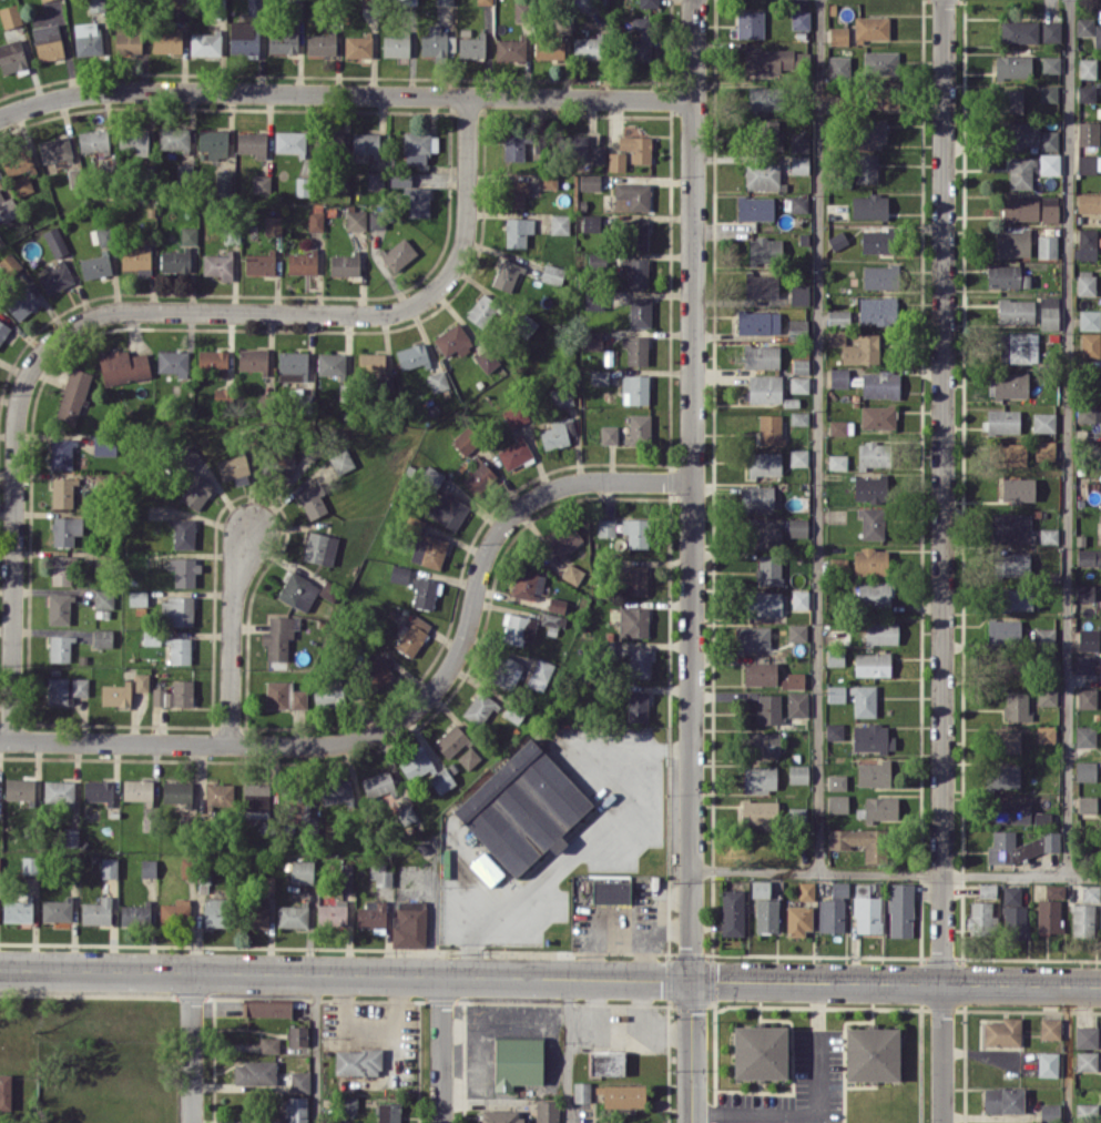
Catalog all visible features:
building: (41, 0)
building: (485, 1)
building: (444, 2)
building: (648, 3)
building: (10, 16)
building: (799, 19)
building: (750, 23)
building: (1084, 26)
building: (870, 28)
building: (1019, 31)
building: (1050, 31)
building: (838, 34)
building: (1097, 34)
building: (243, 37)
building: (86, 38)
building: (641, 38)
building: (47, 41)
building: (166, 41)
building: (282, 41)
building: (437, 41)
building: (128, 42)
building: (205, 43)
building: (320, 43)
building: (357, 45)
building: (396, 45)
building: (471, 47)
building: (587, 48)
building: (510, 49)
building: (548, 49)
building: (11, 55)
building: (768, 60)
building: (880, 63)
building: (1050, 63)
building: (839, 67)
building: (1012, 67)
building: (1087, 68)
road: (344, 92)
building: (1048, 92)
building: (1085, 93)
building: (880, 97)
building: (763, 99)
building: (1010, 100)
building: (764, 133)
building: (1088, 133)
building: (869, 134)
building: (1028, 135)
building: (174, 138)
building: (335, 138)
building: (134, 140)
building: (93, 141)
building: (213, 142)
building: (289, 142)
building: (365, 142)
building: (799, 142)
building: (252, 143)
building: (571, 145)
building: (418, 146)
building: (513, 146)
building: (636, 146)
building: (54, 149)
building: (598, 153)
building: (616, 161)
building: (18, 163)
building: (1049, 163)
building: (1088, 163)
building: (799, 164)
building: (866, 168)
building: (1020, 172)
building: (762, 175)
building: (375, 180)
building: (548, 181)
building: (589, 181)
building: (224, 182)
building: (261, 183)
building: (22, 184)
building: (302, 186)
building: (516, 193)
building: (633, 194)
building: (412, 195)
building: (1089, 202)
building: (798, 203)
building: (869, 205)
building: (7, 206)
building: (755, 208)
building: (1020, 209)
building: (1049, 209)
building: (377, 219)
building: (316, 220)
building: (356, 220)
building: (590, 221)
building: (559, 223)
building: (273, 224)
building: (518, 231)
building: (634, 233)
building: (188, 235)
building: (837, 240)
building: (877, 240)
building: (55, 241)
building: (1012, 242)
building: (1085, 244)
building: (1047, 245)
building: (765, 250)
building: (398, 253)
building: (136, 260)
building: (174, 260)
building: (259, 262)
building: (302, 262)
building: (9, 263)
building: (217, 264)
building: (343, 264)
building: (95, 265)
building: (635, 272)
building: (552, 273)
building: (506, 275)
building: (1006, 275)
building: (878, 276)
building: (54, 277)
building: (1084, 282)
building: (761, 285)
building: (798, 294)
building: (593, 299)
building: (21, 303)
road: (140, 310)
building: (482, 310)
building: (877, 310)
building: (639, 311)
building: (1016, 311)
building: (1048, 312)
building: (837, 316)
building: (1089, 320)
building: (757, 322)
building: (523, 324)
building: (797, 327)
building: (3, 330)
building: (836, 336)
building: (452, 340)
building: (592, 340)
building: (1090, 344)
building: (1019, 346)
building: (635, 348)
building: (862, 350)
building: (412, 355)
building: (761, 356)
building: (252, 358)
building: (212, 360)
building: (173, 362)
building: (330, 364)
building: (293, 365)
building: (123, 366)
building: (374, 366)
building: (799, 366)
building: (599, 376)
building: (838, 377)
building: (437, 381)
building: (798, 384)
building: (880, 384)
building: (1008, 384)
building: (635, 388)
building: (763, 388)
building: (72, 396)
building: (561, 396)
building: (1089, 413)
building: (516, 415)
building: (878, 416)
building: (798, 417)
building: (1001, 421)
building: (1043, 422)
building: (639, 427)
building: (840, 427)
building: (769, 428)
building: (557, 433)
building: (609, 434)
road: (819, 436)
road: (1070, 437)
building: (463, 441)
building: (104, 445)
building: (1044, 449)
building: (62, 453)
building: (513, 453)
building: (1011, 453)
building: (873, 454)
building: (798, 456)
building: (341, 461)
building: (837, 461)
building: (283, 463)
building: (764, 463)
building: (234, 468)
building: (193, 474)
building: (478, 476)
building: (431, 477)
road: (692, 488)
building: (869, 488)
building: (1018, 489)
building: (62, 492)
building: (756, 496)
building: (312, 500)
building: (448, 509)
building: (871, 523)
building: (605, 526)
building: (796, 527)
building: (1011, 527)
building: (65, 529)
building: (635, 532)
building: (183, 533)
building: (763, 533)
building: (1048, 535)
building: (565, 540)
building: (320, 547)
building: (428, 550)
building: (1089, 556)
building: (870, 561)
road: (944, 561)
building: (1012, 564)
building: (61, 569)
building: (768, 569)
building: (184, 571)
building: (399, 573)
building: (572, 574)
building: (634, 579)
building: (528, 585)
building: (298, 590)
building: (424, 591)
building: (1084, 591)
building: (874, 594)
building: (137, 597)
building: (103, 598)
building: (799, 599)
building: (1018, 599)
building: (763, 603)
building: (555, 604)
building: (59, 608)
building: (176, 610)
building: (550, 619)
building: (632, 621)
building: (519, 628)
building: (796, 631)
building: (880, 631)
building: (1003, 631)
building: (411, 634)
road: (231, 635)
building: (279, 636)
building: (838, 636)
building: (102, 637)
building: (151, 637)
building: (751, 637)
building: (1044, 637)
building: (1088, 639)
building: (60, 648)
building: (180, 650)
building: (835, 656)
building: (638, 661)
building: (1083, 662)
building: (871, 664)
building: (1100, 668)
building: (381, 671)
building: (507, 671)
building: (760, 672)
building: (540, 674)
building: (792, 680)
building: (141, 681)
building: (65, 689)
building: (836, 692)
building: (115, 694)
building: (174, 694)
building: (329, 694)
building: (284, 696)
building: (1047, 696)
building: (1087, 698)
building: (864, 700)
building: (796, 704)
building: (1016, 705)
building: (636, 706)
building: (479, 708)
building: (768, 708)
road: (409, 712)
building: (834, 730)
building: (1046, 734)
building: (1084, 736)
building: (871, 738)
building: (451, 741)
building: (1005, 741)
building: (762, 743)
building: (469, 758)
building: (416, 763)
building: (1085, 770)
building: (797, 773)
building: (873, 773)
building: (1003, 776)
building: (760, 779)
building: (441, 780)
building: (836, 781)
building: (377, 783)
building: (19, 789)
building: (98, 790)
building: (137, 790)
building: (176, 791)
building: (337, 791)
building: (59, 792)
building: (217, 795)
building: (256, 799)
building: (837, 802)
building: (522, 807)
building: (880, 809)
building: (758, 811)
building: (1012, 811)
building: (406, 813)
building: (1041, 817)
road: (611, 821)
building: (70, 837)
building: (858, 841)
building: (1023, 846)
building: (30, 864)
building: (109, 867)
building: (147, 868)
building: (486, 868)
building: (302, 871)
building: (380, 873)
road: (896, 873)
building: (346, 876)
building: (839, 888)
building: (987, 889)
road: (463, 890)
building: (806, 890)
building: (610, 891)
building: (1090, 892)
building: (764, 907)
building: (867, 909)
building: (900, 909)
building: (17, 910)
building: (55, 910)
building: (175, 910)
building: (1050, 910)
building: (96, 911)
building: (214, 912)
building: (332, 912)
building: (732, 912)
building: (134, 913)
building: (1013, 913)
building: (371, 914)
building: (980, 914)
building: (256, 915)
building: (292, 915)
building: (830, 915)
building: (1082, 918)
building: (798, 919)
building: (409, 923)
road: (346, 973)
traffic signals: (692, 979)
road: (896, 982)
building: (267, 1008)
road: (537, 1018)
road: (618, 1021)
building: (1049, 1028)
building: (1002, 1032)
road: (661, 1033)
building: (296, 1035)
building: (1085, 1036)
building: (268, 1044)
road: (191, 1046)
road: (312, 1048)
road: (441, 1048)
road: (571, 1050)
road: (692, 1051)
building: (758, 1052)
building: (871, 1053)
road: (1069, 1054)
road: (482, 1056)
building: (1085, 1060)
building: (357, 1061)
building: (517, 1062)
building: (605, 1062)
building: (1047, 1063)
building: (254, 1072)
building: (299, 1081)
building: (4, 1091)
building: (581, 1091)
building: (623, 1095)
building: (1002, 1100)
road: (818, 1109)
building: (1085, 1109)
building: (295, 1110)
building: (546, 1111)
building: (388, 1112)
building: (1049, 1113)
building: (500, 1115)

